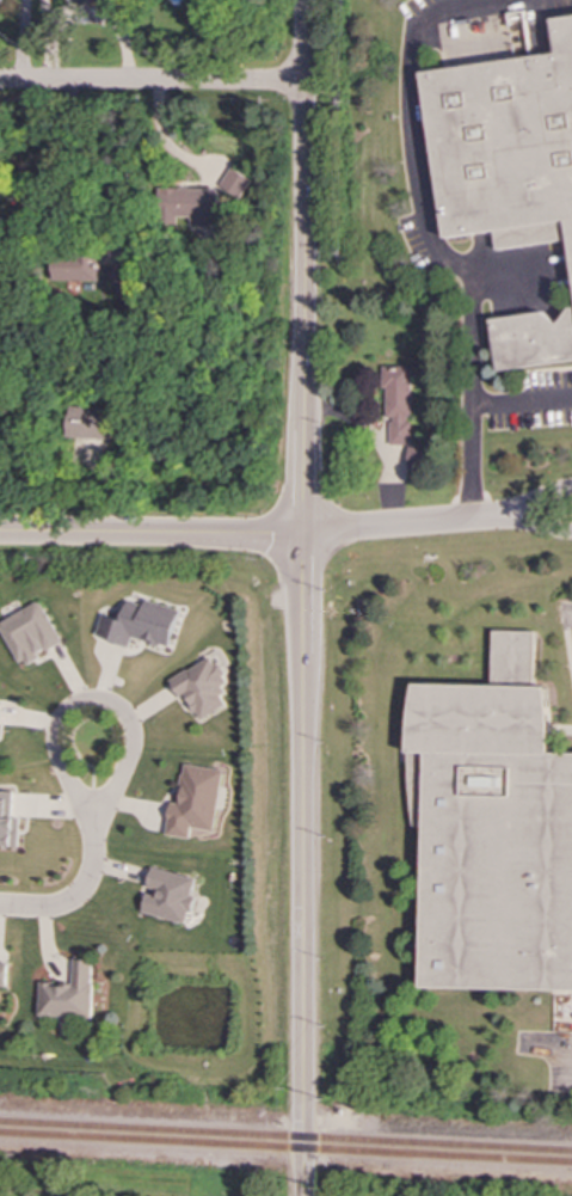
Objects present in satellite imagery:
building: (94, 0)
building: (203, 0)
building: (1, 1)
road: (24, 41)
road: (152, 82)
building: (505, 145)
road: (98, 155)
building: (236, 184)
building: (192, 208)
road: (433, 249)
building: (75, 268)
building: (123, 281)
building: (531, 339)
building: (399, 403)
road: (521, 403)
building: (90, 423)
building: (422, 458)
road: (542, 497)
road: (412, 525)
road: (543, 529)
road: (153, 534)
road: (306, 597)
building: (142, 624)
building: (30, 633)
building: (203, 687)
road: (94, 703)
building: (0, 711)
building: (196, 801)
building: (8, 821)
building: (492, 829)
building: (170, 896)
road: (70, 900)
building: (4, 975)
building: (70, 994)
railway: (285, 1135)
railway: (285, 1147)
crop: (509, 1185)

